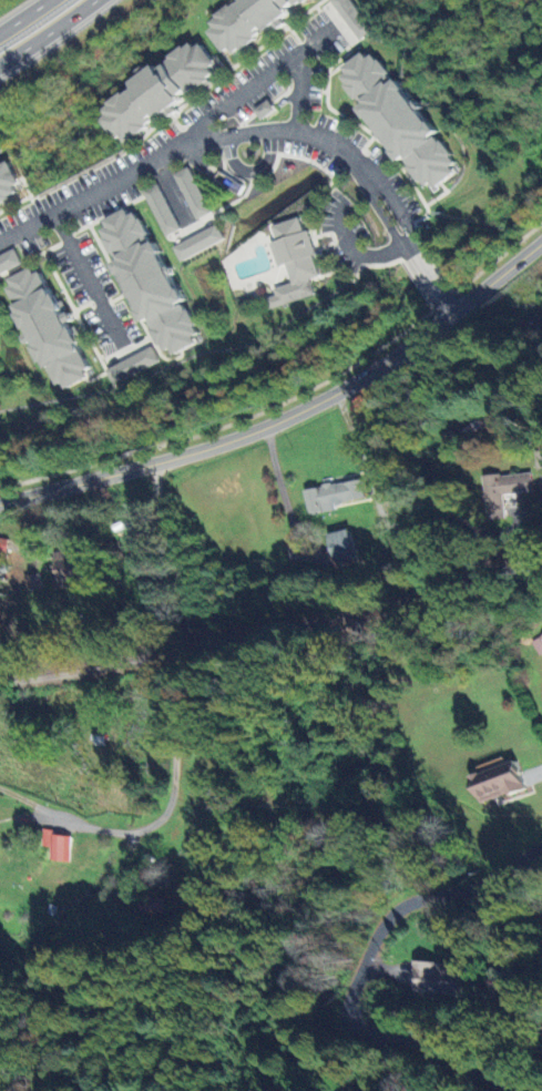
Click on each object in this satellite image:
road: (23, 17)
building: (347, 20)
building: (245, 22)
road: (45, 31)
road: (258, 84)
building: (155, 92)
building: (263, 111)
building: (396, 121)
road: (191, 142)
building: (8, 185)
building: (192, 193)
building: (161, 210)
road: (390, 212)
road: (407, 242)
building: (198, 243)
road: (358, 251)
building: (9, 262)
building: (293, 262)
road: (427, 273)
road: (88, 276)
building: (146, 282)
road: (446, 303)
building: (44, 328)
building: (132, 365)
road: (292, 414)
road: (419, 452)
road: (362, 465)
building: (500, 491)
building: (330, 496)
road: (285, 501)
building: (338, 545)
building: (65, 568)
building: (31, 582)
railway: (277, 626)
building: (538, 644)
road: (180, 725)
building: (493, 783)
building: (55, 846)
building: (149, 905)
road: (357, 963)
building: (438, 978)
road: (487, 1088)

